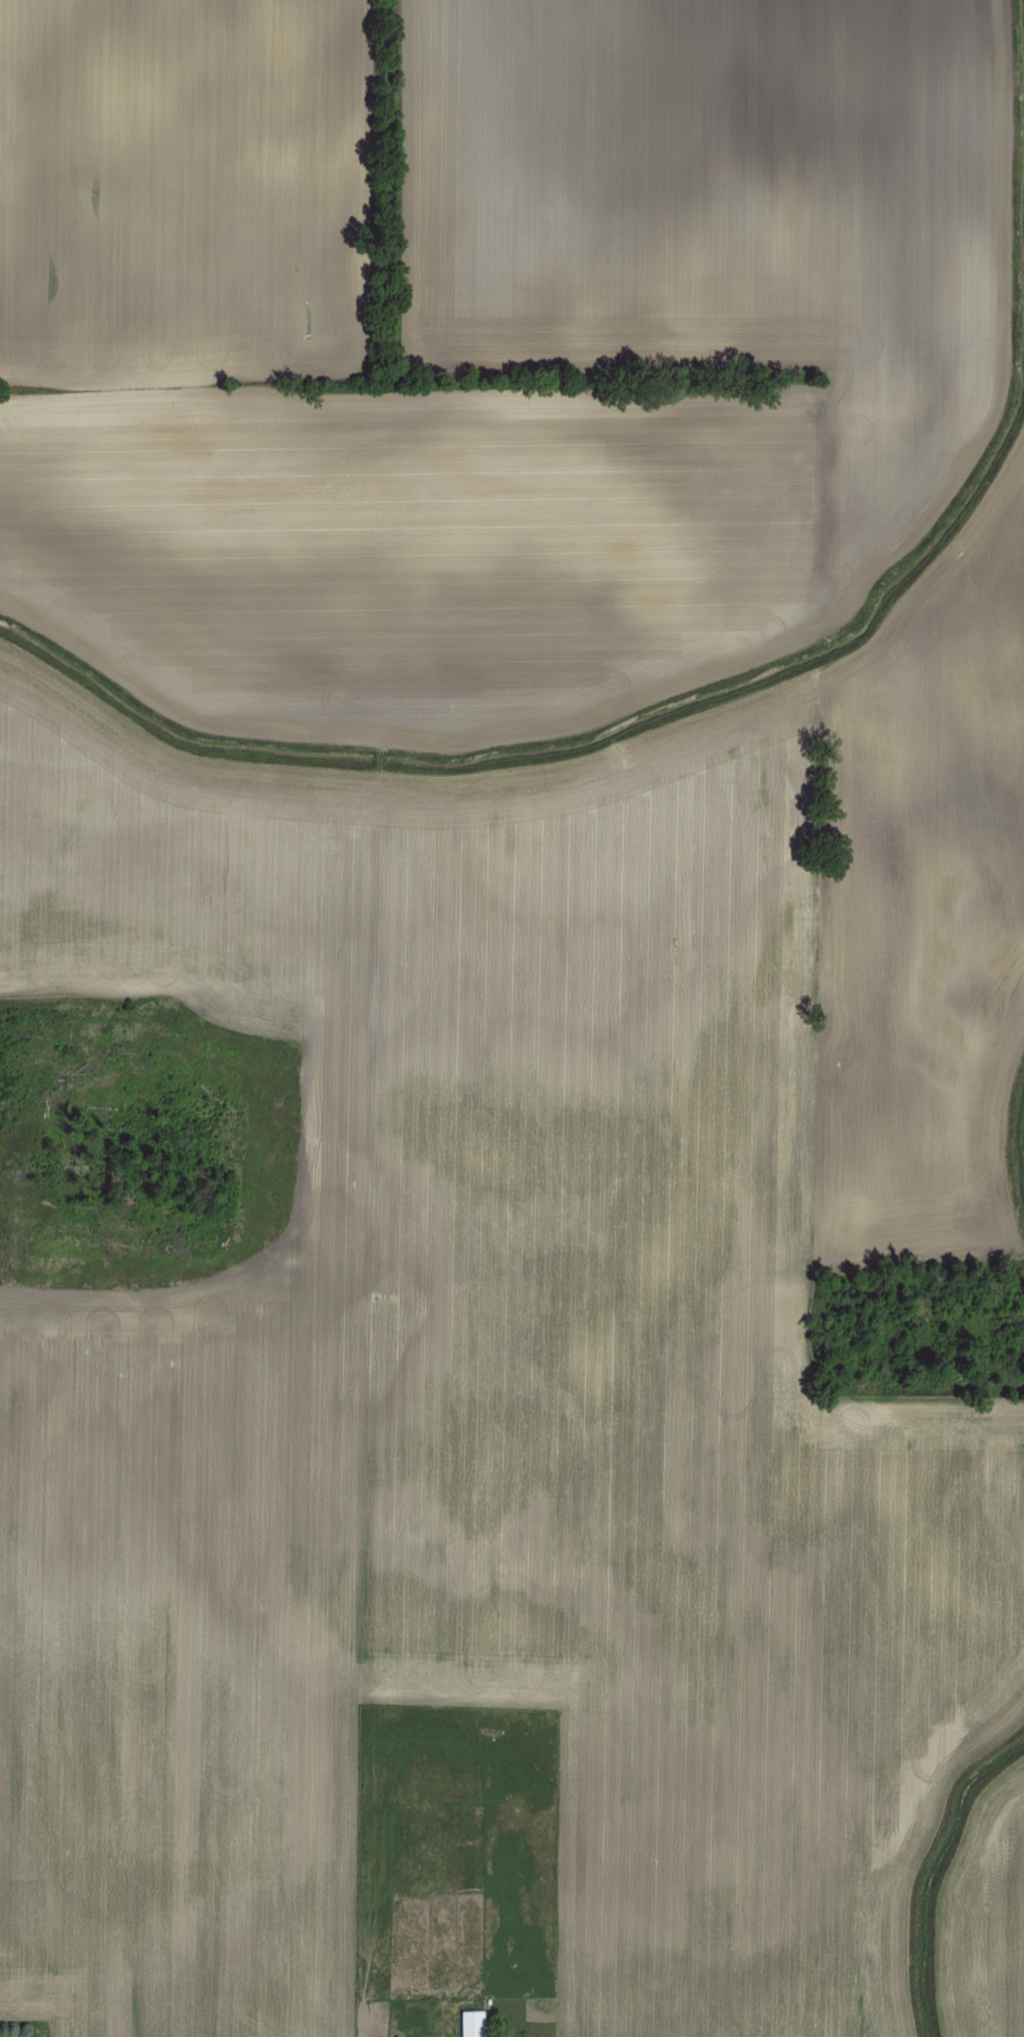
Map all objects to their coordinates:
building: (468, 2023)

